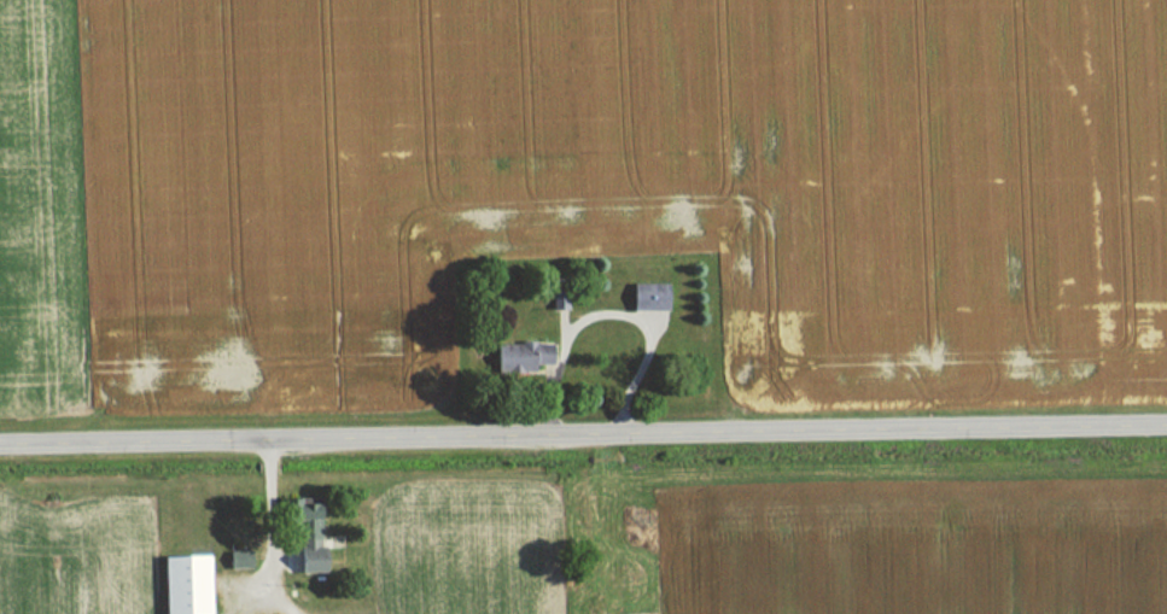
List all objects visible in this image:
crop: (583, 188)
building: (643, 297)
building: (518, 359)
road: (583, 440)
building: (294, 514)
crop: (911, 546)
crop: (474, 548)
crop: (77, 550)
building: (180, 585)

